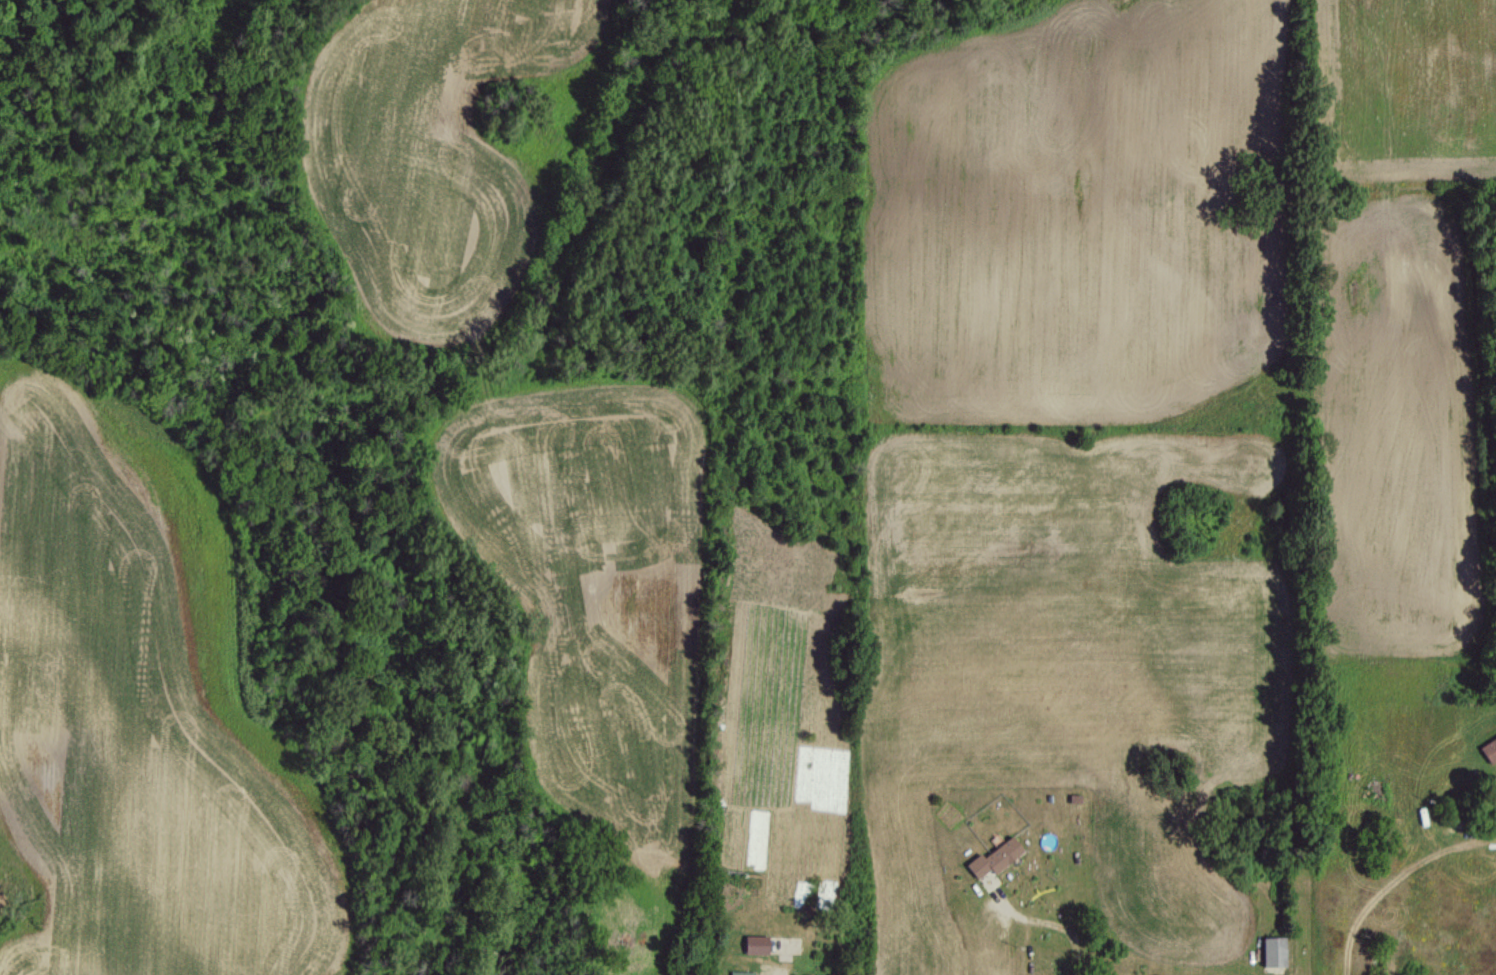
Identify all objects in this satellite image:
building: (1489, 750)
building: (993, 858)
building: (755, 944)
building: (1272, 952)
building: (741, 973)

